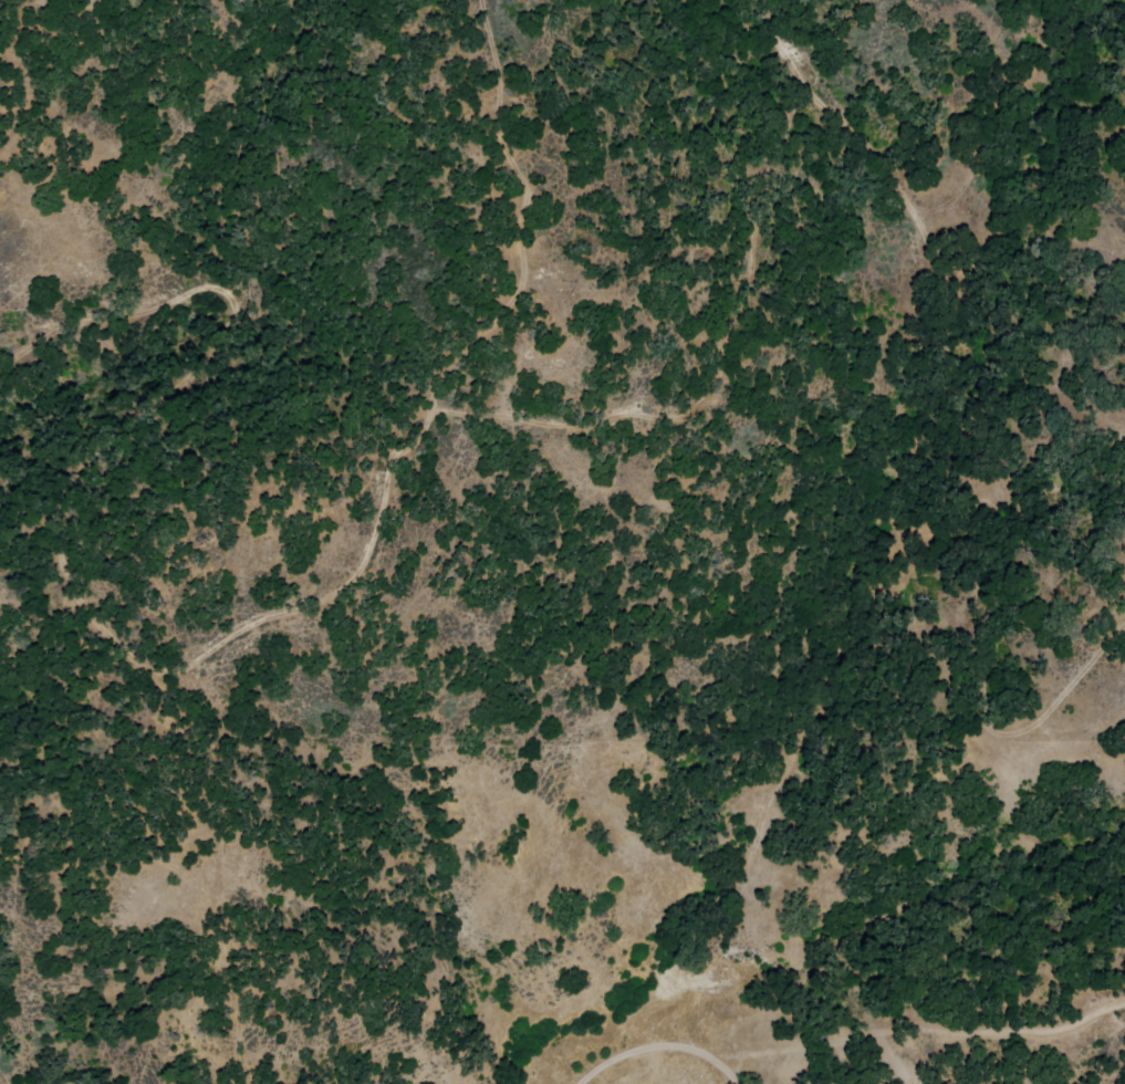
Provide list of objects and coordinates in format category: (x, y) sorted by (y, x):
road: (973, 1024)

